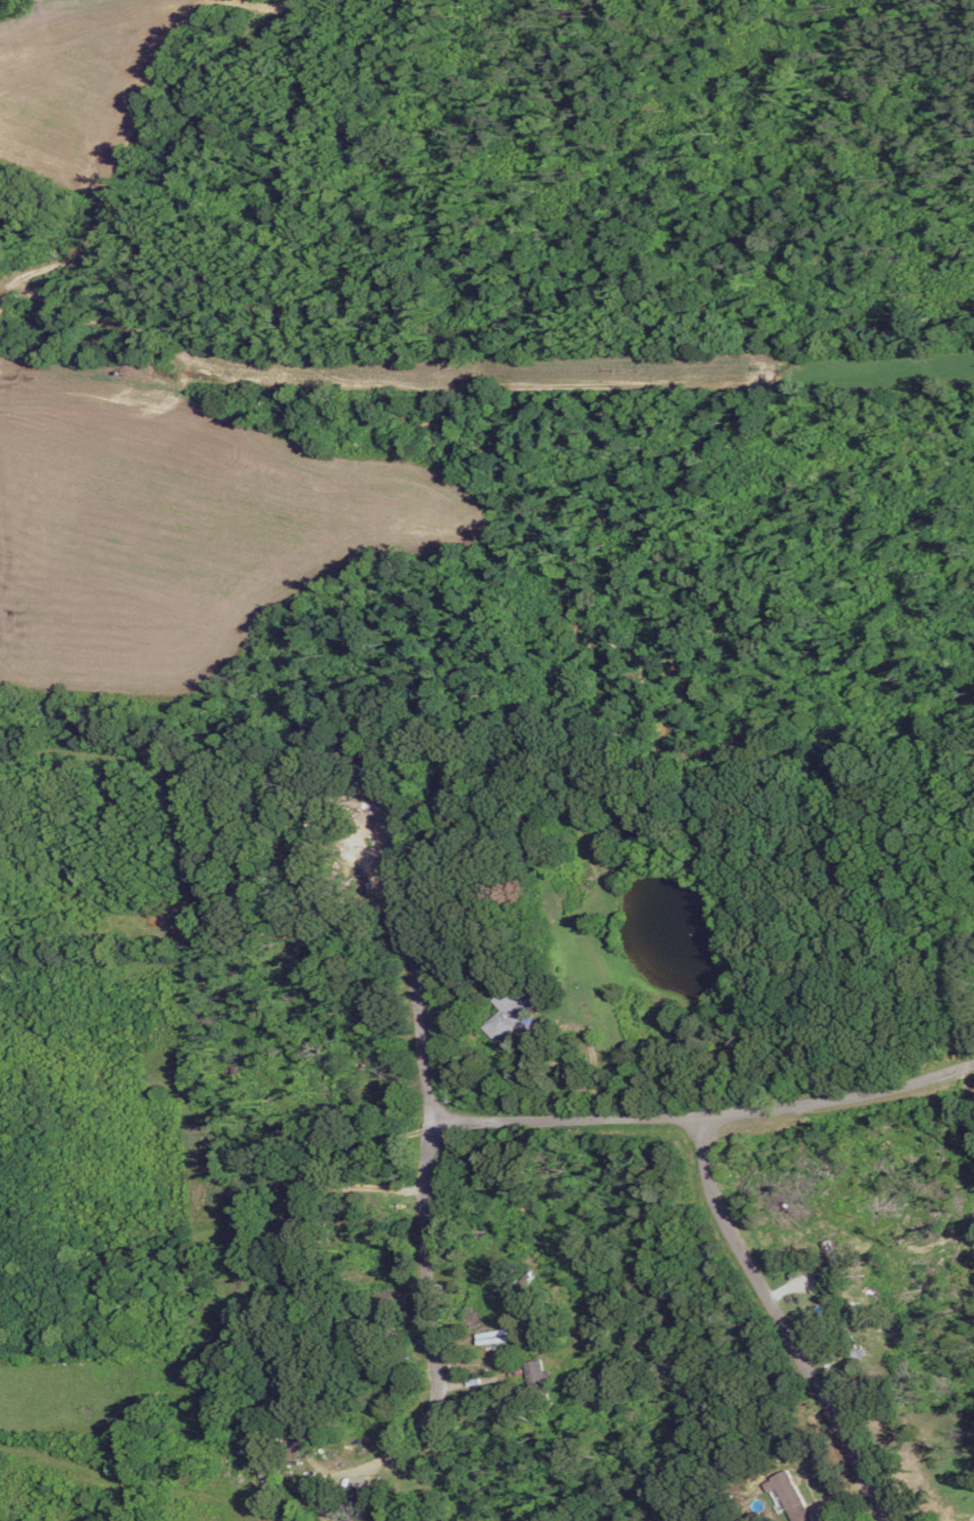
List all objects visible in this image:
road: (403, 967)
building: (511, 1012)
road: (841, 1101)
road: (564, 1121)
building: (298, 1205)
road: (427, 1244)
road: (778, 1322)
building: (536, 1372)
building: (787, 1495)

